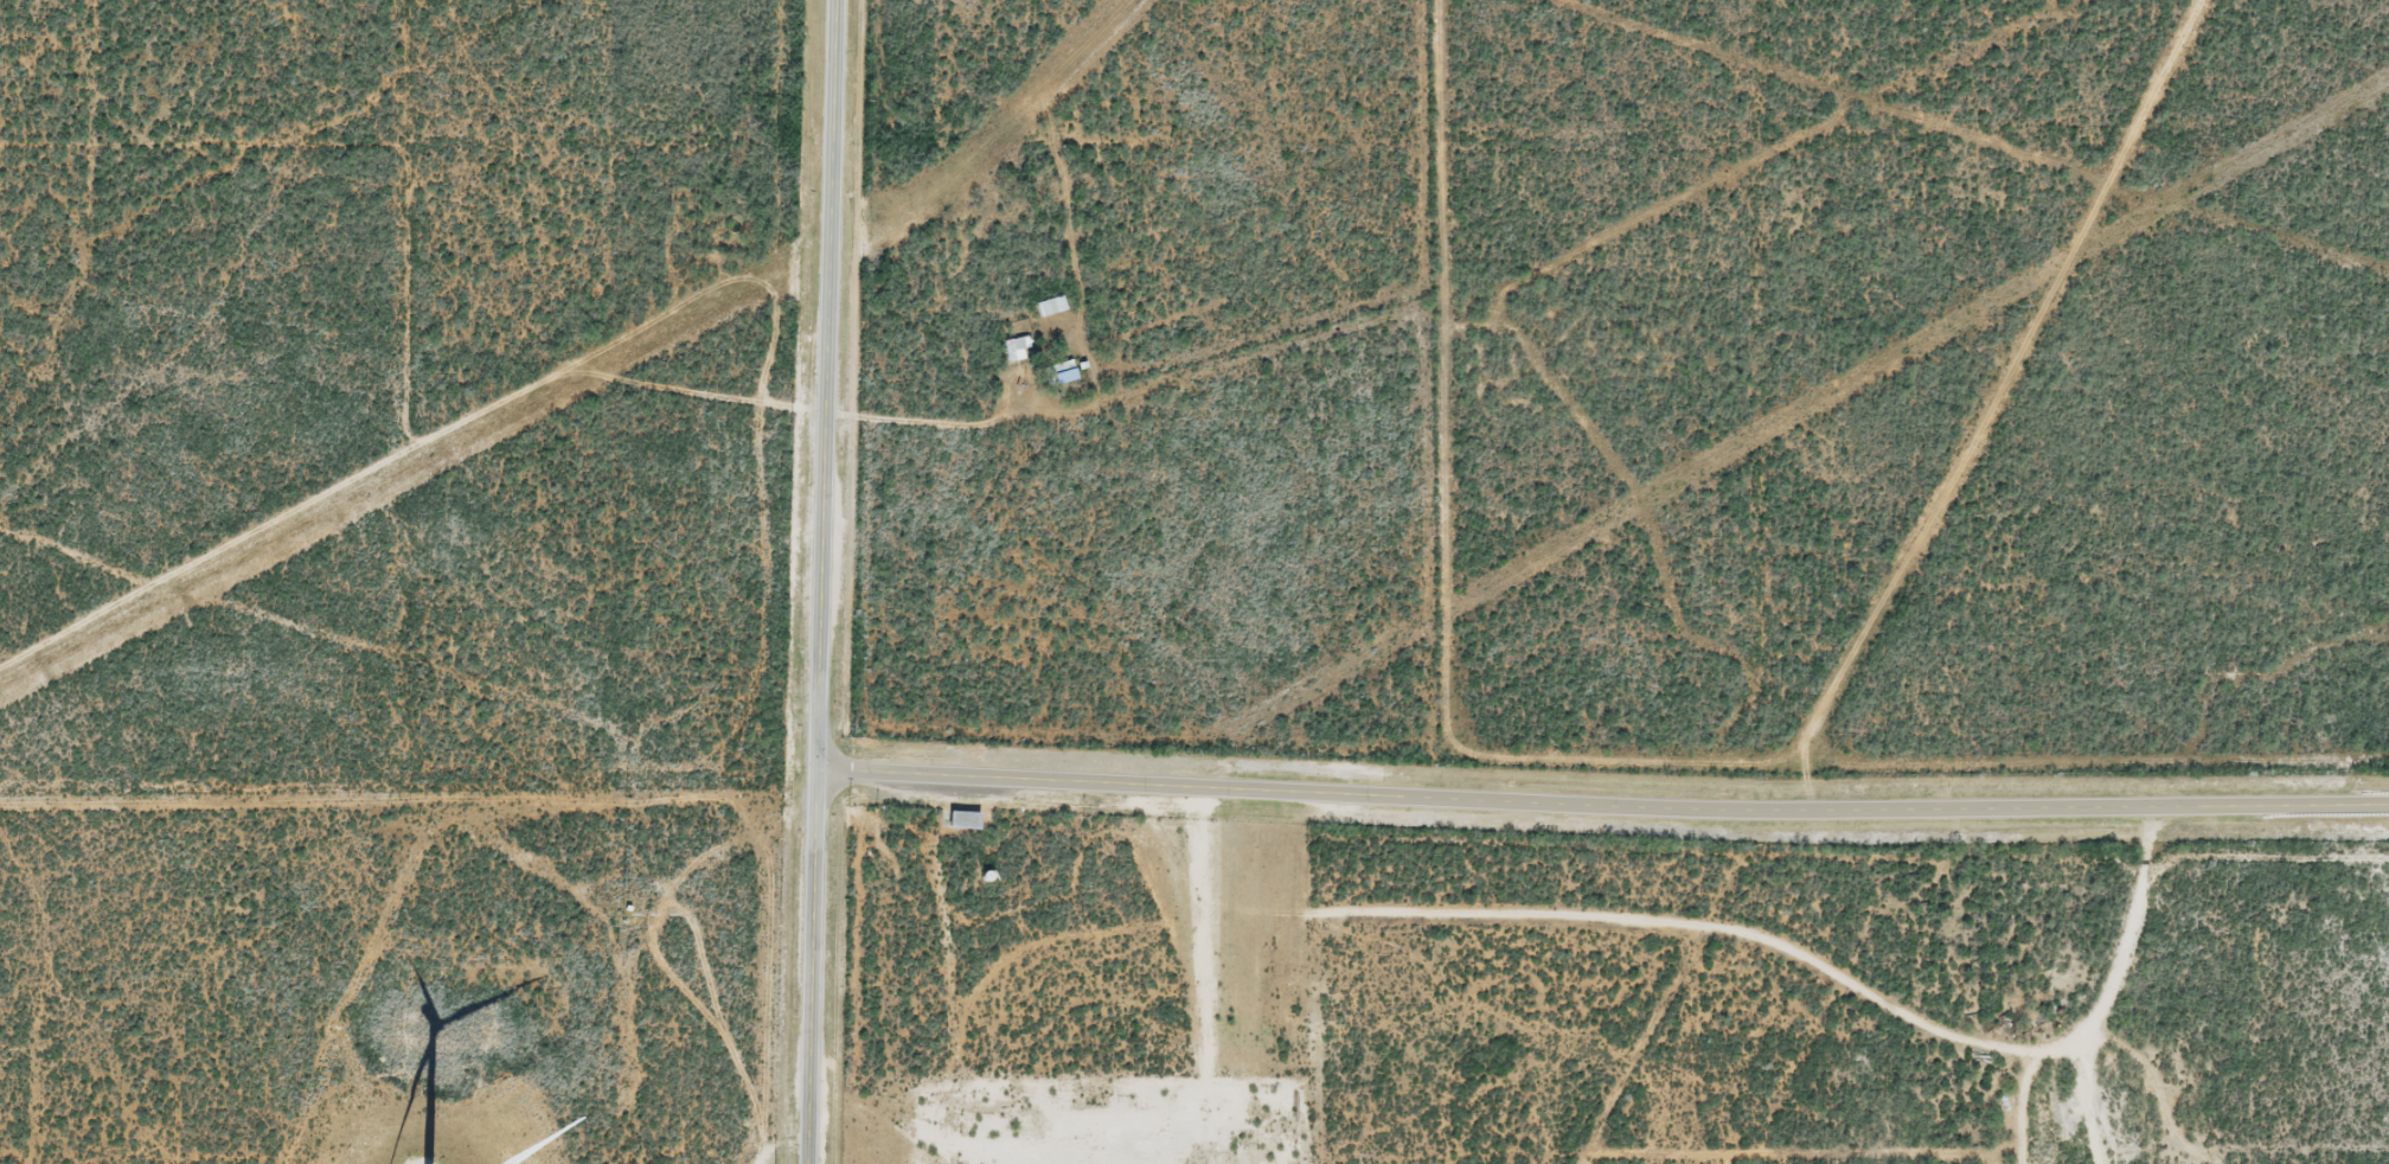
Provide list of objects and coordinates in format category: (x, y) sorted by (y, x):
building: (1051, 305)
building: (1018, 347)
building: (1064, 371)
road: (826, 581)
road: (1605, 799)
building: (963, 818)

